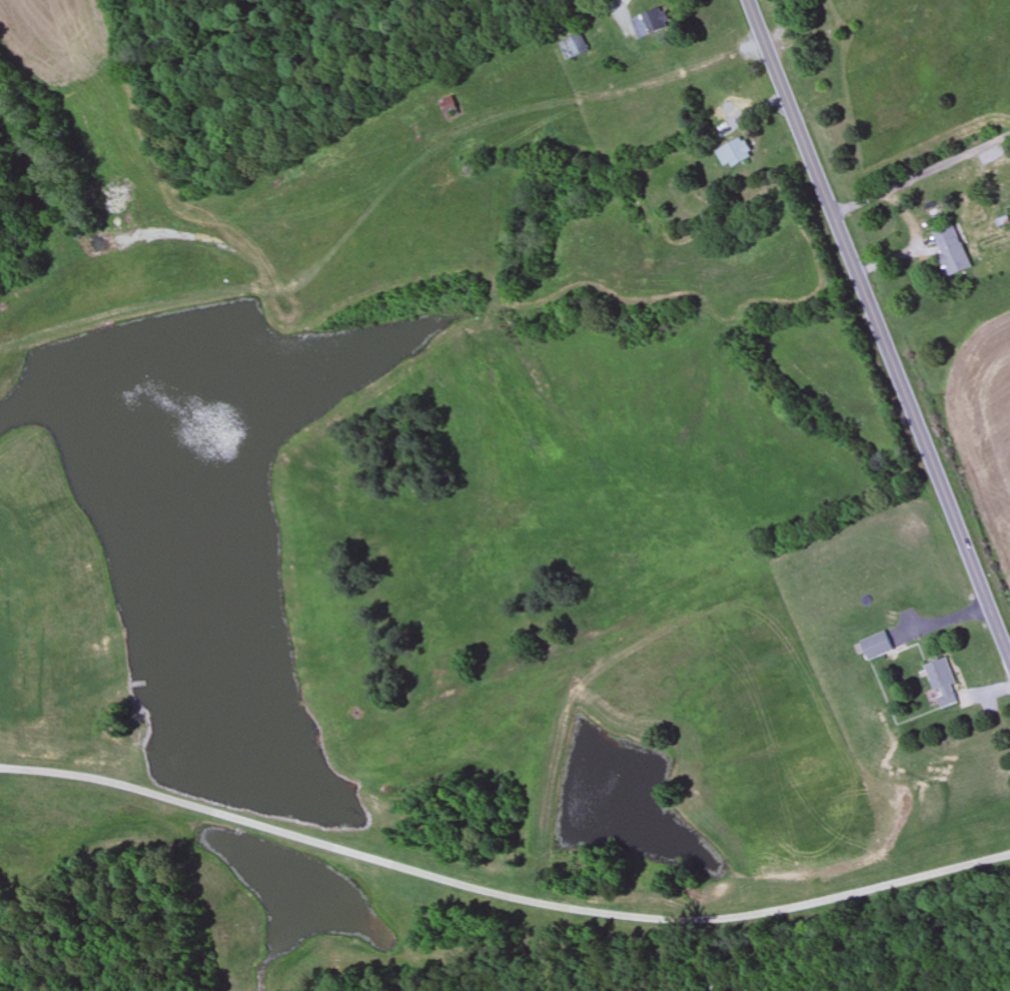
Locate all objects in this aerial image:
building: (878, 16)
building: (652, 23)
building: (912, 30)
building: (573, 47)
building: (450, 107)
building: (736, 153)
road: (921, 175)
building: (954, 257)
road: (878, 331)
building: (877, 646)
building: (943, 684)
road: (501, 892)
building: (713, 978)

